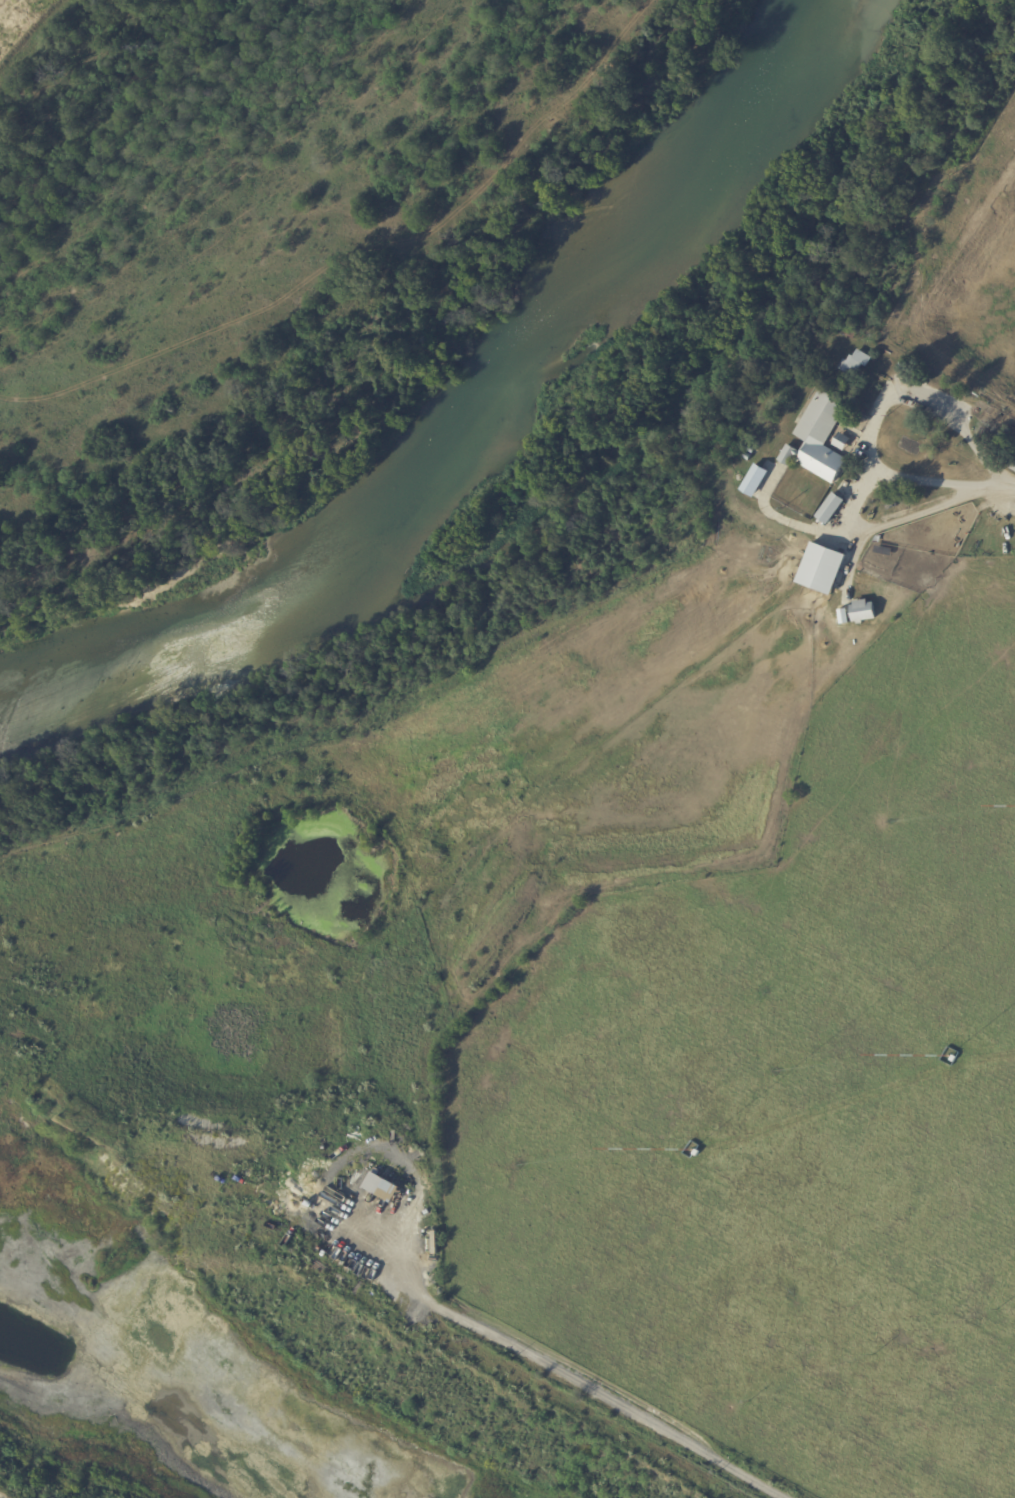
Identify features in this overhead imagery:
building: (849, 332)
building: (855, 363)
building: (901, 366)
building: (872, 387)
building: (973, 409)
river: (463, 423)
building: (990, 437)
building: (819, 439)
building: (842, 441)
building: (751, 449)
building: (1014, 467)
road: (869, 473)
road: (935, 481)
road: (1008, 487)
building: (831, 508)
building: (821, 567)
building: (862, 610)
building: (954, 1058)
building: (697, 1152)
building: (382, 1186)
road: (586, 1410)
road: (3, 1496)

